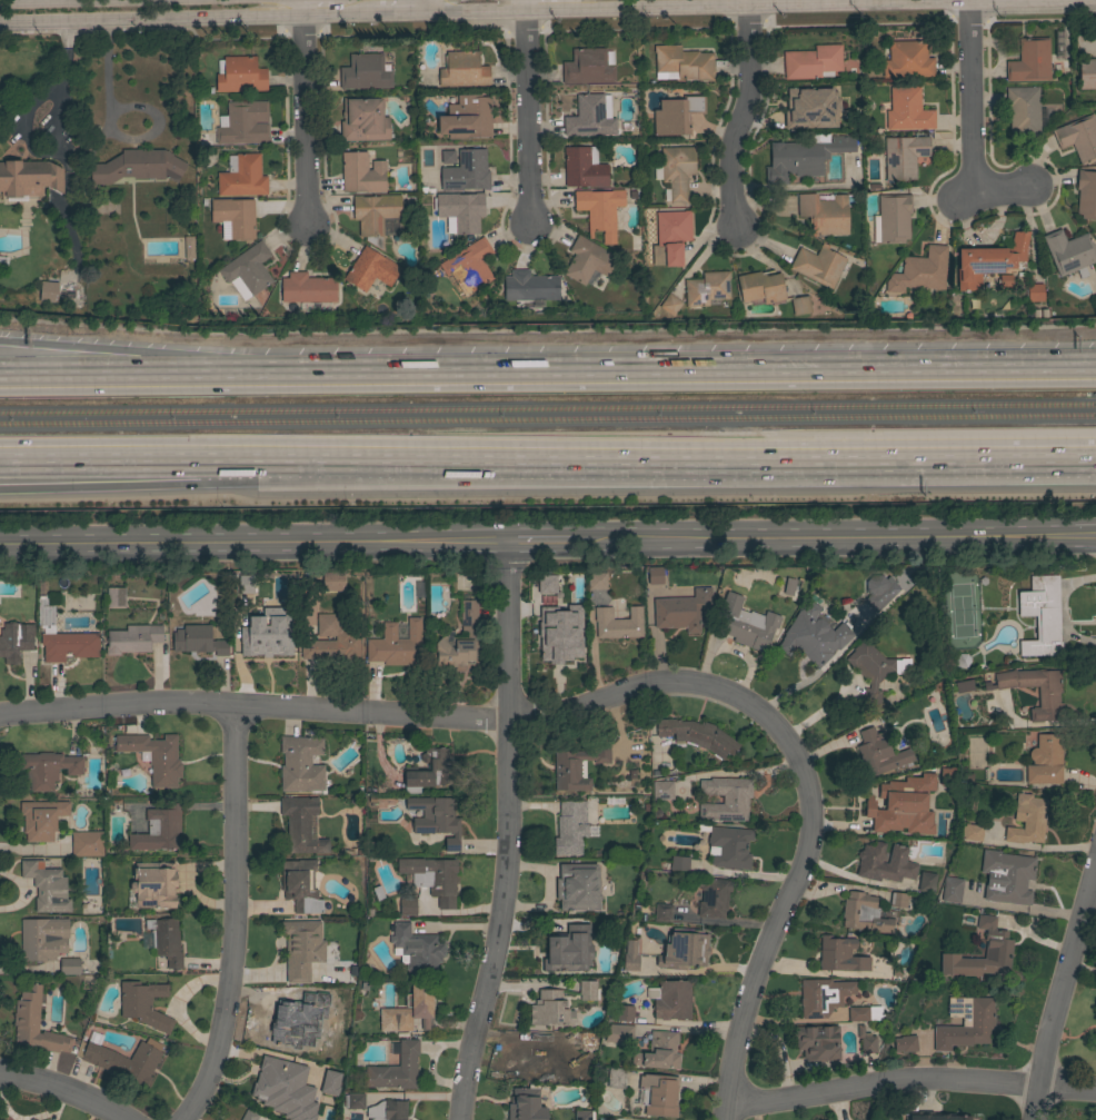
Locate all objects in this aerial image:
road: (62, 1)
road: (419, 9)
road: (757, 9)
road: (395, 18)
road: (185, 21)
building: (906, 60)
building: (1029, 61)
building: (813, 62)
building: (682, 63)
building: (588, 67)
building: (462, 70)
building: (365, 72)
building: (1087, 73)
building: (239, 75)
road: (968, 97)
building: (808, 109)
building: (907, 110)
building: (1023, 111)
road: (302, 112)
road: (528, 112)
road: (747, 112)
building: (676, 115)
building: (591, 117)
building: (467, 118)
building: (363, 120)
building: (245, 123)
building: (1078, 138)
building: (904, 156)
building: (448, 157)
building: (804, 157)
building: (138, 167)
building: (584, 168)
building: (677, 171)
building: (361, 172)
building: (466, 172)
building: (242, 177)
building: (29, 178)
road: (1007, 190)
building: (1086, 195)
road: (966, 199)
building: (460, 210)
building: (599, 211)
building: (825, 214)
building: (235, 217)
building: (377, 217)
building: (893, 218)
building: (674, 227)
building: (189, 248)
building: (1069, 252)
building: (668, 255)
building: (589, 261)
building: (988, 261)
building: (2, 264)
building: (468, 266)
building: (818, 266)
building: (370, 270)
building: (247, 271)
building: (920, 271)
building: (529, 287)
building: (760, 287)
building: (307, 288)
building: (706, 288)
building: (57, 289)
building: (43, 293)
building: (1035, 293)
building: (669, 305)
building: (800, 306)
road: (99, 363)
road: (647, 371)
road: (99, 375)
railway: (547, 408)
railway: (548, 419)
road: (831, 453)
road: (283, 455)
road: (283, 469)
road: (834, 539)
road: (540, 543)
road: (255, 544)
building: (655, 576)
building: (597, 581)
building: (332, 582)
building: (245, 584)
building: (544, 586)
building: (788, 586)
building: (879, 591)
building: (114, 597)
building: (681, 611)
building: (44, 613)
building: (1042, 615)
building: (618, 623)
building: (746, 624)
building: (575, 636)
building: (813, 636)
building: (133, 640)
building: (269, 640)
building: (14, 641)
building: (198, 641)
building: (331, 641)
building: (459, 641)
building: (397, 644)
building: (69, 646)
building: (962, 661)
building: (873, 671)
building: (973, 684)
building: (962, 687)
building: (1048, 697)
road: (601, 698)
building: (697, 735)
building: (878, 752)
building: (155, 756)
building: (1045, 761)
building: (300, 764)
building: (577, 766)
building: (48, 769)
building: (430, 771)
building: (662, 790)
building: (725, 800)
building: (885, 800)
building: (41, 819)
building: (436, 819)
building: (1027, 820)
building: (301, 825)
building: (921, 825)
building: (570, 827)
building: (158, 830)
building: (972, 832)
road: (508, 834)
building: (87, 844)
building: (729, 848)
building: (869, 861)
building: (679, 863)
building: (1006, 876)
building: (432, 878)
building: (926, 882)
building: (152, 885)
building: (300, 885)
building: (46, 886)
building: (578, 888)
road: (836, 889)
building: (951, 890)
building: (711, 896)
building: (898, 900)
building: (407, 906)
building: (662, 913)
building: (864, 913)
road: (236, 916)
building: (41, 938)
building: (166, 940)
building: (674, 946)
building: (998, 946)
building: (297, 949)
building: (416, 949)
building: (566, 951)
building: (840, 955)
building: (627, 957)
building: (69, 967)
building: (588, 990)
road: (1060, 992)
building: (823, 997)
building: (671, 1000)
building: (337, 1001)
building: (143, 1004)
building: (409, 1009)
building: (549, 1010)
building: (625, 1013)
building: (865, 1013)
building: (34, 1023)
building: (287, 1023)
building: (966, 1023)
building: (618, 1033)
building: (866, 1041)
building: (587, 1042)
building: (817, 1042)
building: (905, 1043)
building: (659, 1051)
building: (541, 1059)
building: (123, 1061)
building: (395, 1070)
building: (616, 1078)
building: (330, 1081)
road: (908, 1082)
building: (276, 1083)
road: (58, 1092)
building: (658, 1094)
building: (353, 1101)
building: (526, 1104)
building: (387, 1110)
building: (249, 1114)
building: (579, 1116)
building: (936, 1116)
building: (617, 1118)

